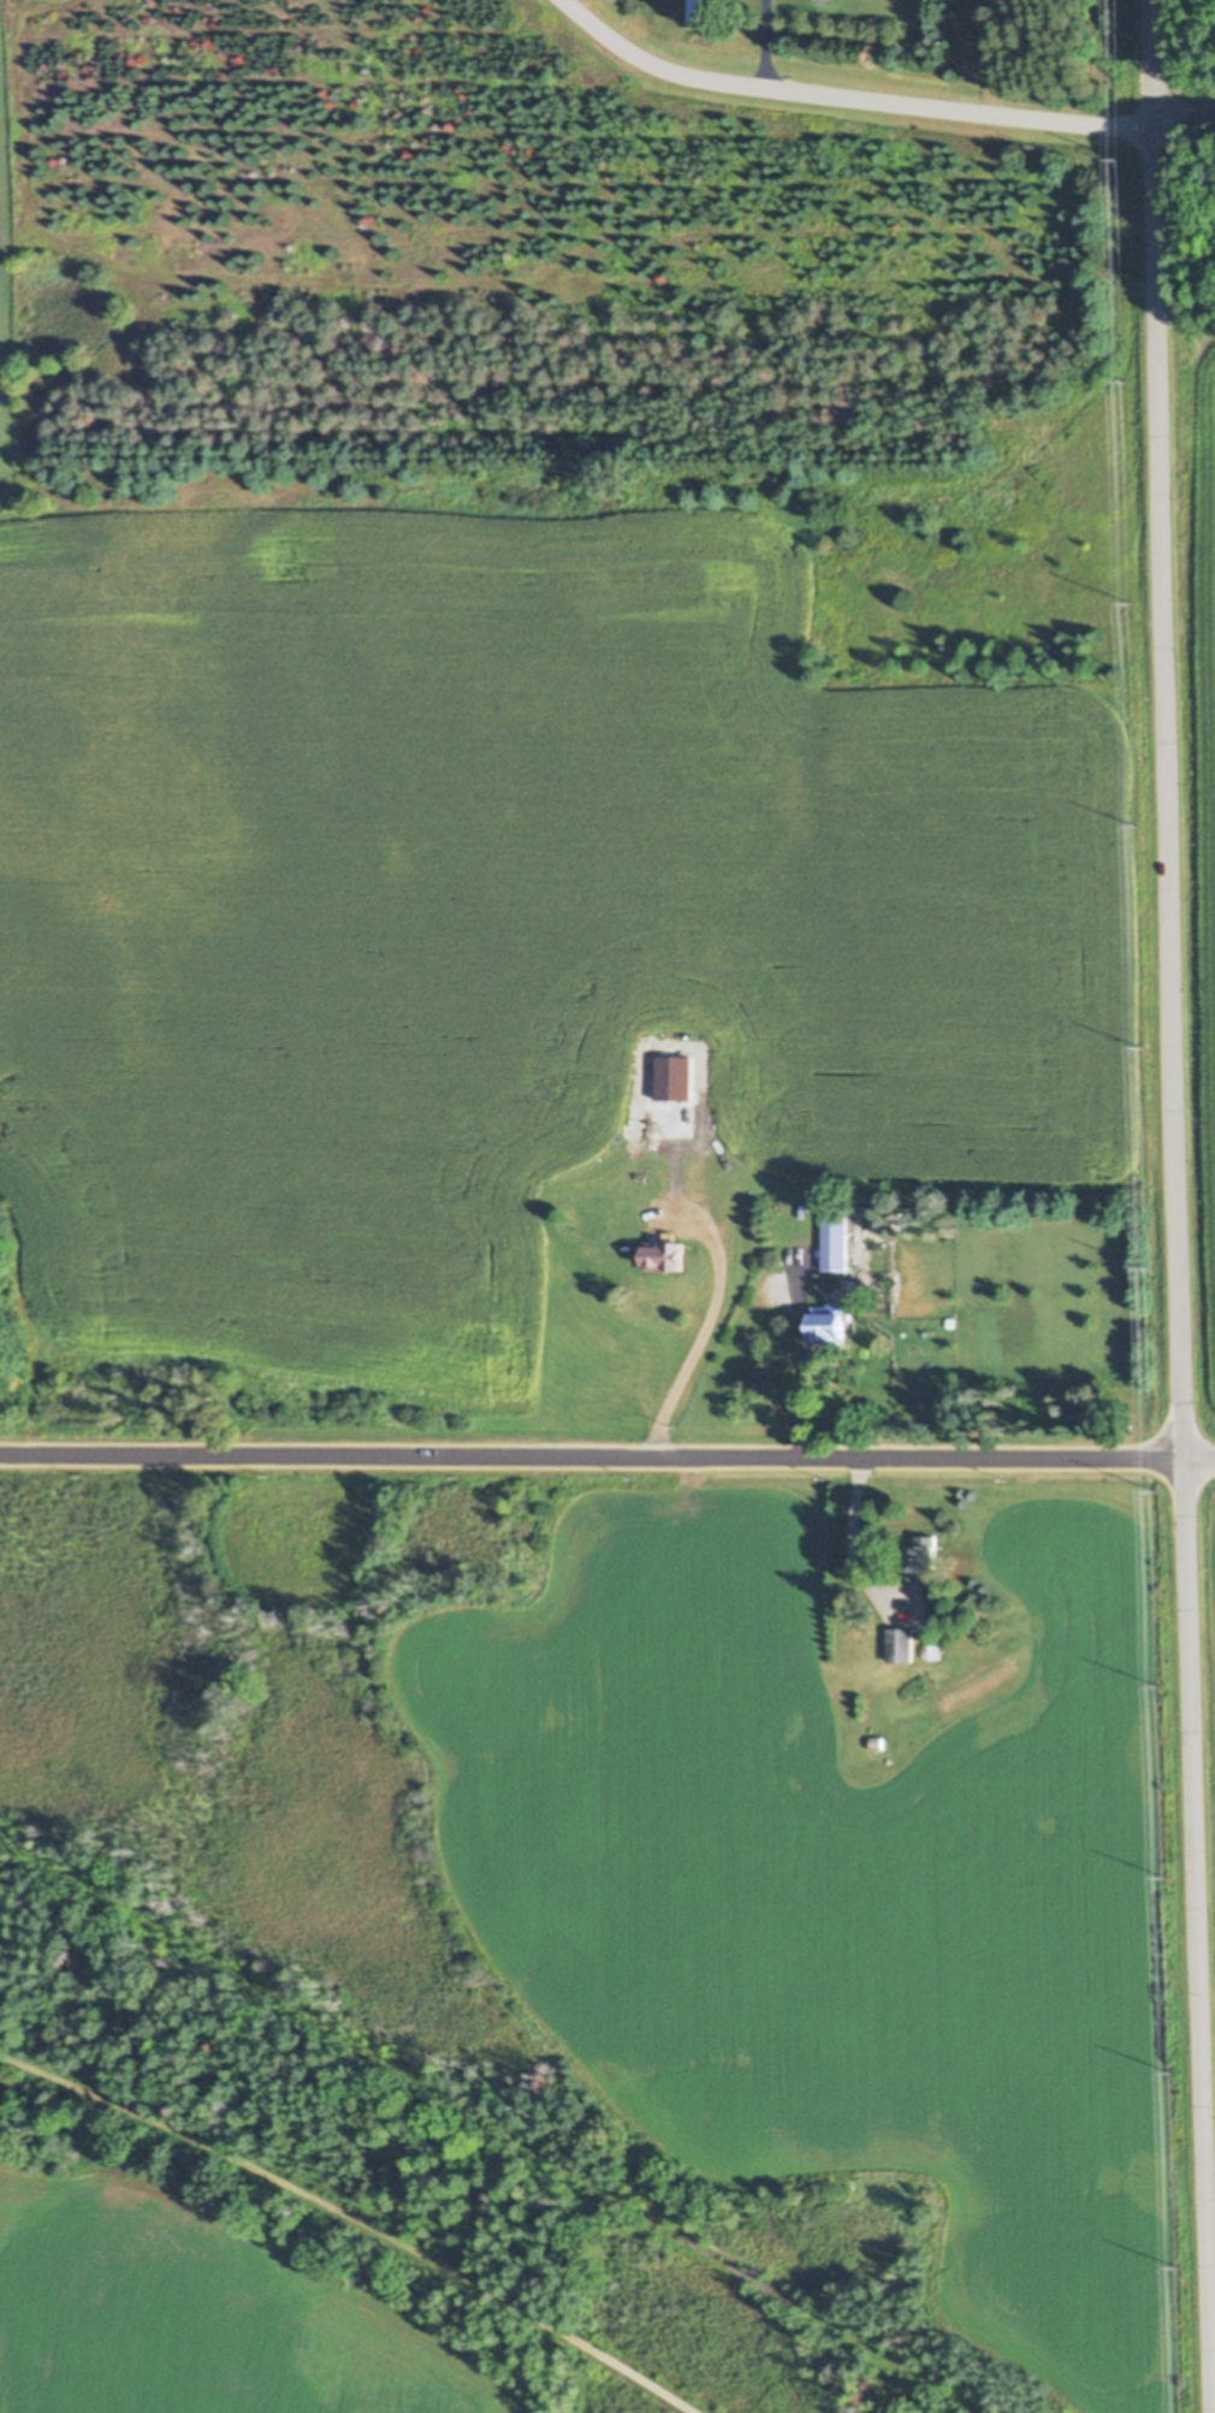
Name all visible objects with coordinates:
building: (703, 11)
road: (760, 43)
road: (844, 95)
road: (1183, 107)
building: (675, 1080)
road: (1177, 1206)
building: (834, 1243)
building: (663, 1256)
building: (828, 1323)
road: (701, 1338)
road: (801, 1366)
road: (606, 1455)
road: (852, 1533)
building: (921, 1562)
building: (899, 1645)
road: (493, 2122)
road: (354, 2217)

